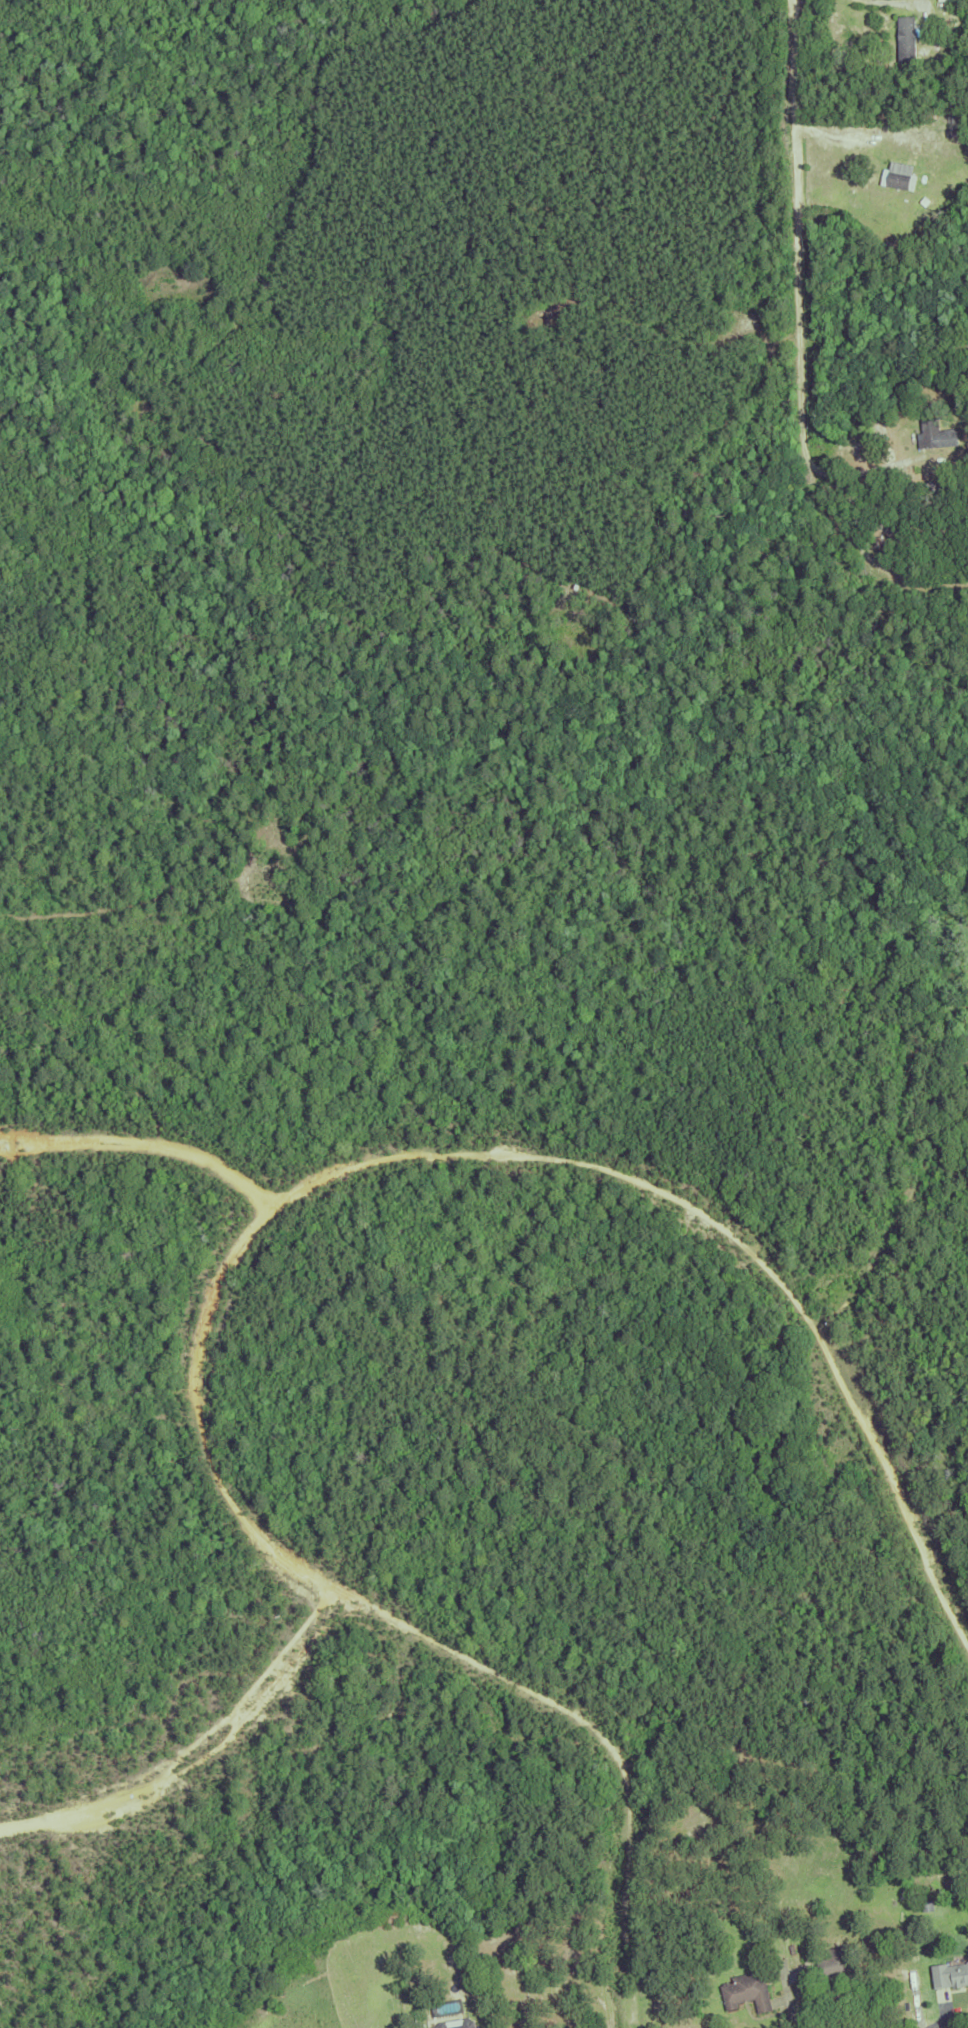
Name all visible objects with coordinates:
road: (901, 2)
building: (908, 39)
building: (951, 131)
building: (896, 174)
building: (544, 302)
road: (800, 342)
building: (933, 433)
road: (863, 471)
building: (928, 484)
building: (789, 1947)
building: (949, 1972)
building: (744, 1989)
road: (787, 1996)
building: (455, 2023)

